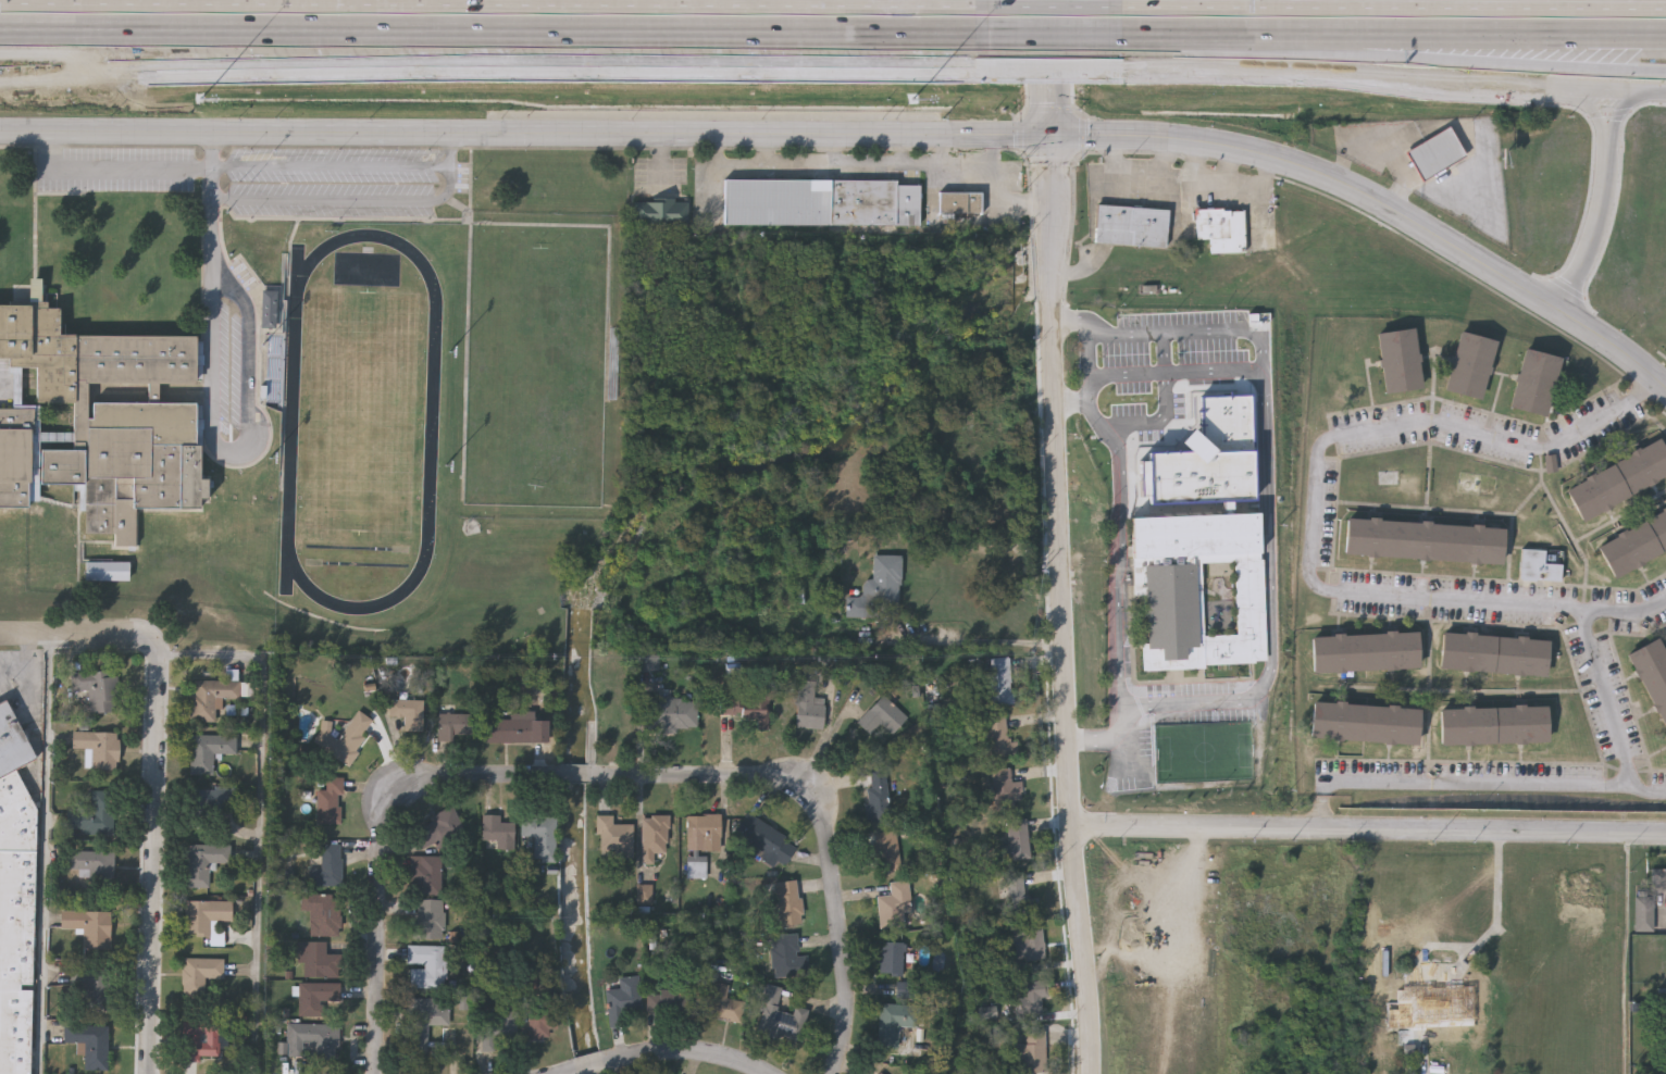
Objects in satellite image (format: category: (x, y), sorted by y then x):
road: (494, 5)
road: (1048, 7)
road: (1387, 7)
road: (494, 30)
road: (1048, 33)
road: (1189, 33)
road: (1467, 35)
road: (1466, 58)
road: (1050, 66)
road: (494, 72)
road: (1048, 73)
road: (1382, 79)
building: (993, 89)
road: (1661, 90)
road: (1587, 103)
road: (1628, 107)
road: (868, 133)
traffic signals: (1050, 133)
road: (903, 149)
road: (837, 150)
road: (945, 150)
road: (769, 152)
building: (1437, 153)
road: (993, 160)
road: (662, 161)
road: (873, 166)
road: (331, 168)
road: (112, 172)
road: (211, 189)
building: (822, 203)
building: (960, 203)
road: (363, 204)
building: (661, 211)
road: (1596, 226)
building: (1130, 228)
building: (1220, 232)
building: (272, 310)
road: (1070, 326)
road: (249, 348)
road: (212, 359)
building: (1398, 363)
road: (1089, 367)
building: (1468, 367)
road: (1178, 373)
building: (1533, 385)
road: (1073, 405)
building: (100, 422)
road: (1157, 422)
road: (1119, 442)
building: (1618, 483)
road: (1269, 500)
road: (1316, 512)
building: (1422, 542)
building: (1633, 545)
road: (1118, 546)
building: (1538, 567)
building: (1183, 580)
building: (879, 591)
road: (1060, 603)
road: (76, 635)
road: (977, 640)
road: (1116, 649)
building: (1364, 653)
building: (1493, 657)
building: (649, 665)
road: (28, 666)
parking lot: (10, 674)
building: (1652, 676)
building: (999, 682)
building: (99, 689)
road: (29, 696)
building: (215, 697)
road: (1608, 699)
building: (746, 707)
building: (809, 708)
building: (408, 713)
building: (671, 713)
building: (882, 722)
building: (1364, 725)
building: (456, 726)
building: (1493, 727)
building: (517, 729)
building: (997, 737)
road: (1118, 737)
building: (345, 738)
road: (1092, 738)
building: (12, 745)
building: (100, 748)
building: (208, 752)
road: (579, 775)
road: (703, 775)
road: (476, 776)
road: (1475, 786)
building: (1005, 787)
building: (878, 795)
building: (212, 801)
building: (331, 801)
road: (1108, 804)
road: (260, 812)
building: (95, 815)
road: (1367, 827)
building: (437, 829)
building: (705, 832)
building: (498, 833)
building: (540, 837)
building: (614, 837)
building: (654, 837)
building: (763, 840)
building: (1016, 841)
building: (890, 851)
road: (43, 854)
road: (151, 858)
building: (203, 862)
building: (94, 865)
building: (327, 867)
building: (696, 869)
building: (426, 875)
building: (1658, 877)
building: (1016, 891)
road: (1495, 898)
building: (788, 904)
building: (894, 906)
building: (323, 913)
building: (1645, 914)
road: (840, 917)
building: (430, 920)
road: (378, 923)
building: (16, 924)
building: (90, 928)
building: (1028, 941)
building: (787, 958)
building: (892, 960)
building: (320, 961)
building: (426, 967)
building: (200, 978)
building: (89, 990)
building: (1031, 995)
building: (318, 998)
building: (622, 1000)
building: (669, 1002)
building: (722, 1006)
building: (1447, 1013)
building: (781, 1017)
building: (424, 1022)
building: (542, 1024)
building: (895, 1024)
building: (498, 1028)
building: (199, 1040)
building: (312, 1040)
building: (88, 1047)
road: (692, 1052)
building: (1032, 1053)
road: (592, 1065)
road: (568, 1073)
building: (880, 1073)

